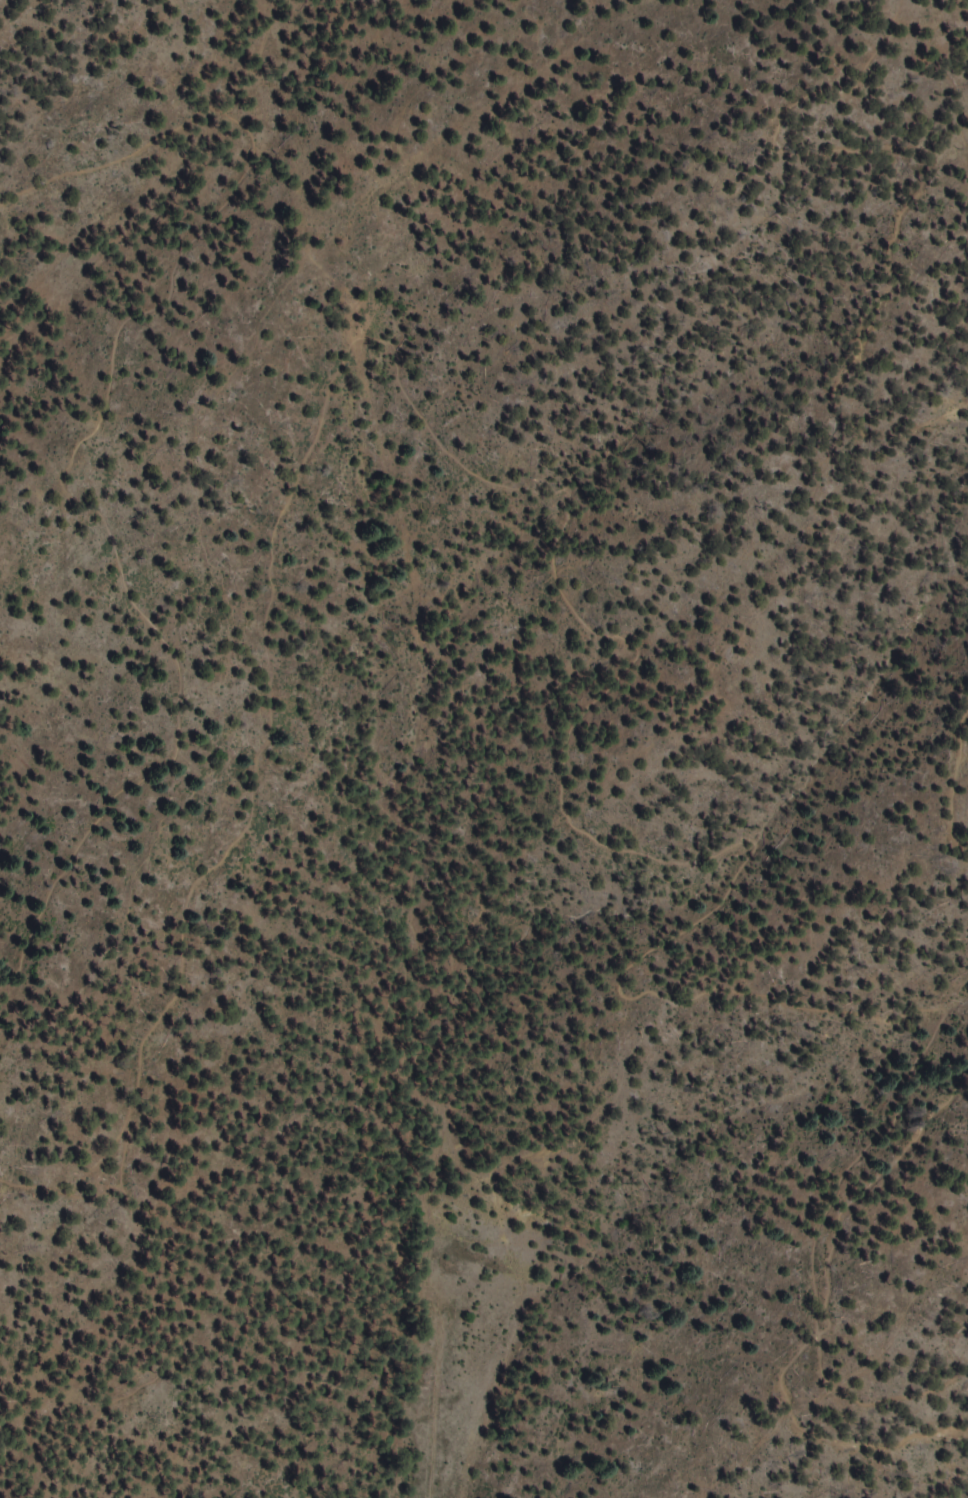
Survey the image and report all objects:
road: (937, 63)
road: (156, 163)
road: (487, 766)
road: (688, 1195)
road: (470, 1427)

